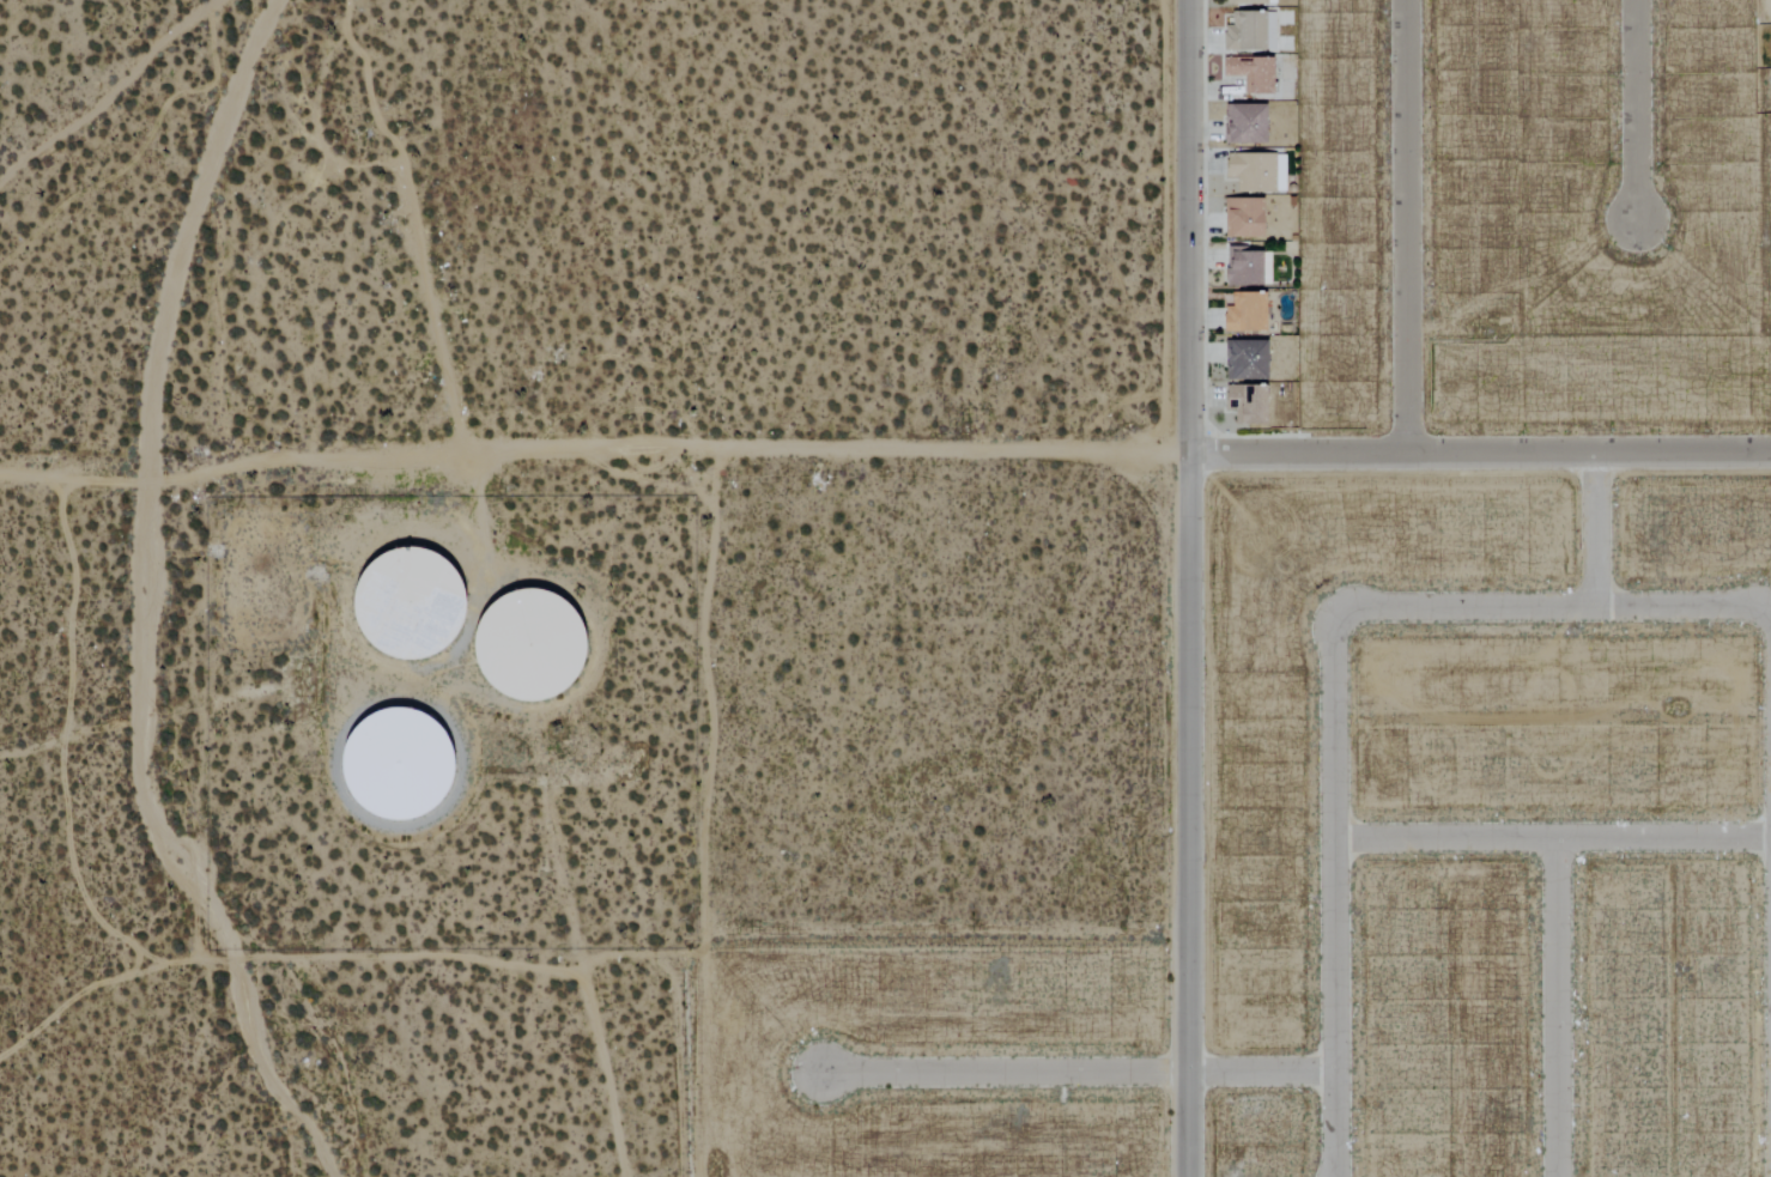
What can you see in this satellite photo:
building: (1251, 1)
road: (104, 89)
road: (1636, 113)
building: (1242, 123)
building: (1255, 172)
building: (1241, 217)
road: (1406, 226)
building: (1245, 268)
building: (1242, 313)
building: (1242, 359)
road: (1481, 453)
road: (830, 456)
road: (304, 468)
road: (484, 514)
road: (1599, 529)
road: (1191, 588)
road: (145, 606)
road: (1560, 608)
road: (1551, 837)
road: (1333, 888)
road: (1554, 1007)
road: (1079, 1072)

